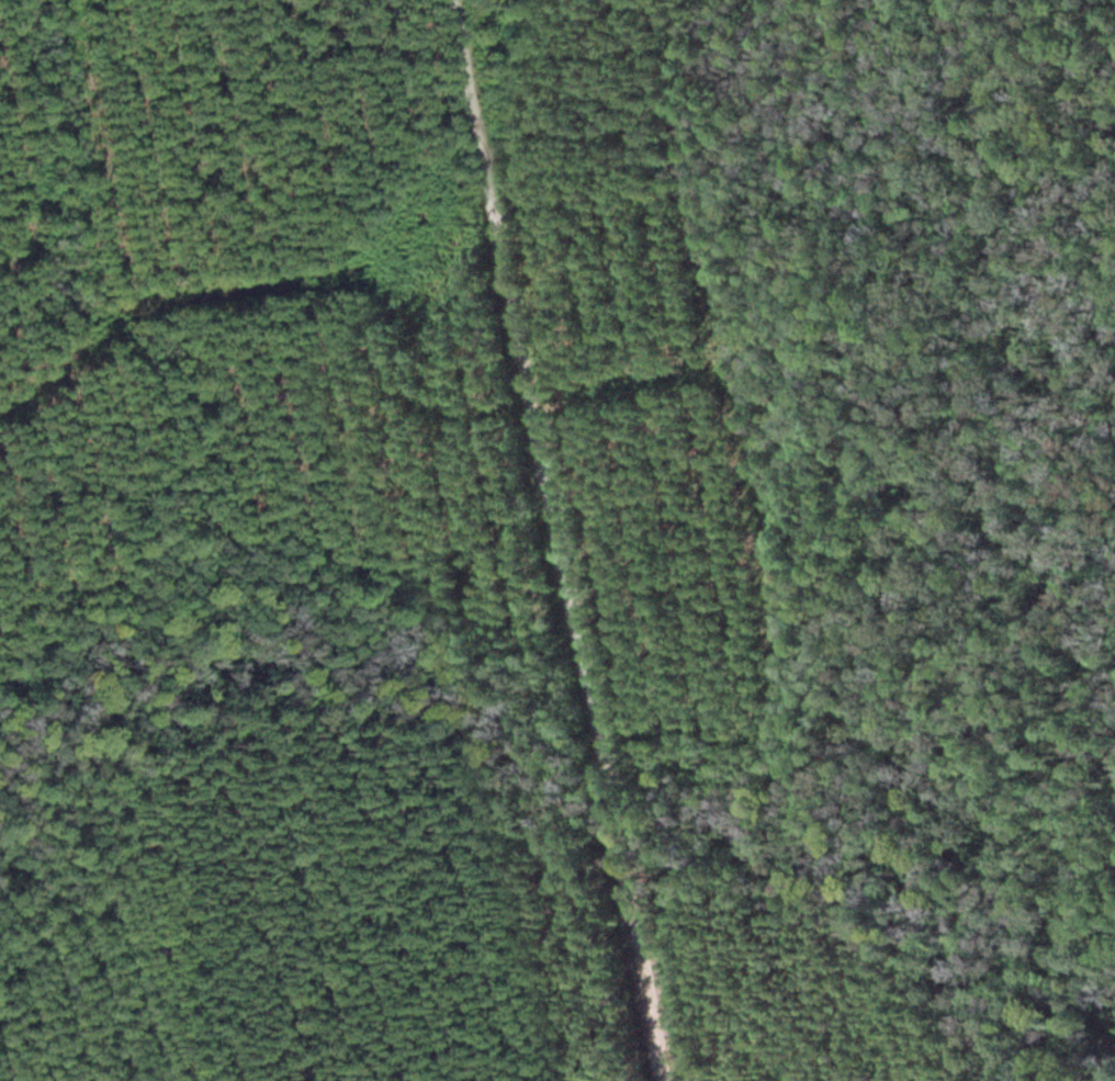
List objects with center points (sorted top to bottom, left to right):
road: (583, 542)

